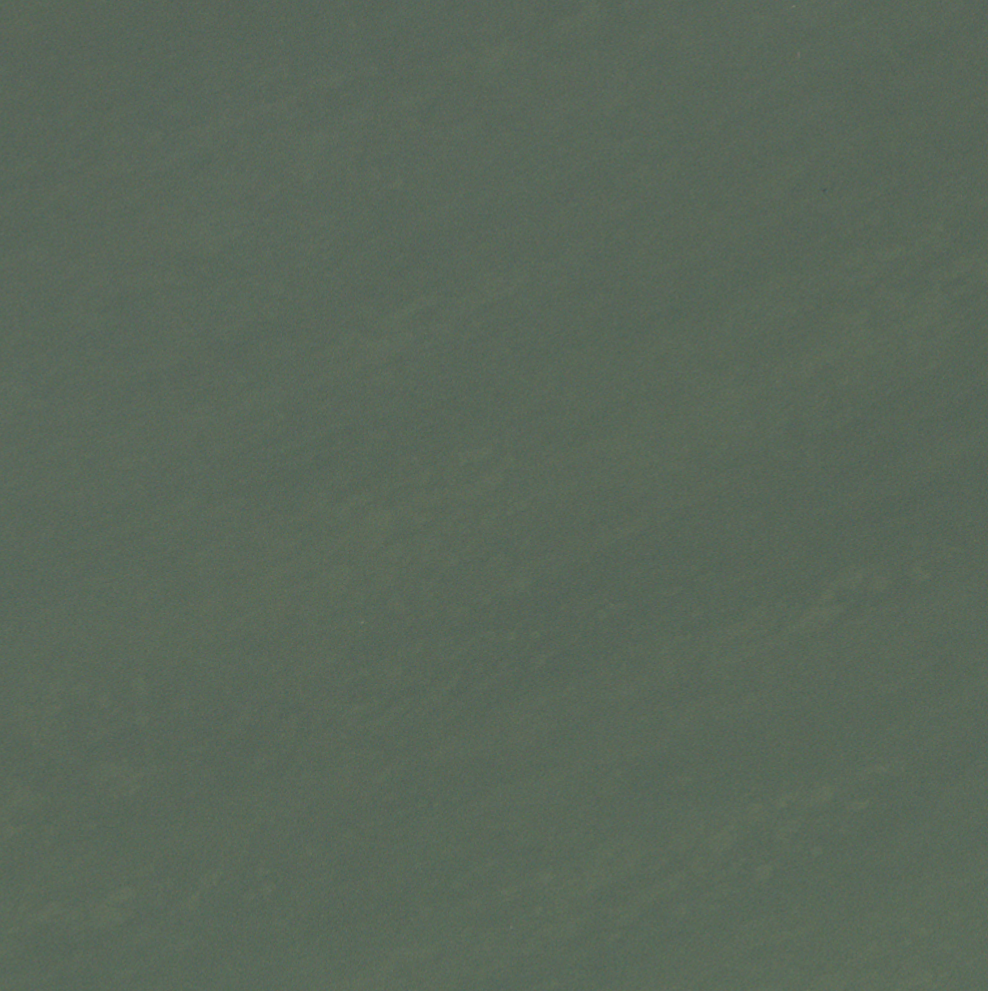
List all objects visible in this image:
river: (494, 616)

